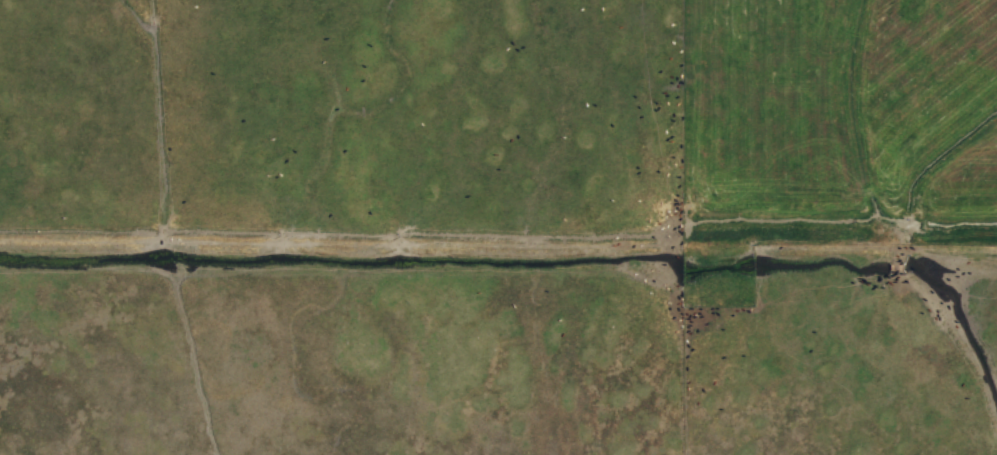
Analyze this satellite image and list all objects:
crop: (498, 227)

